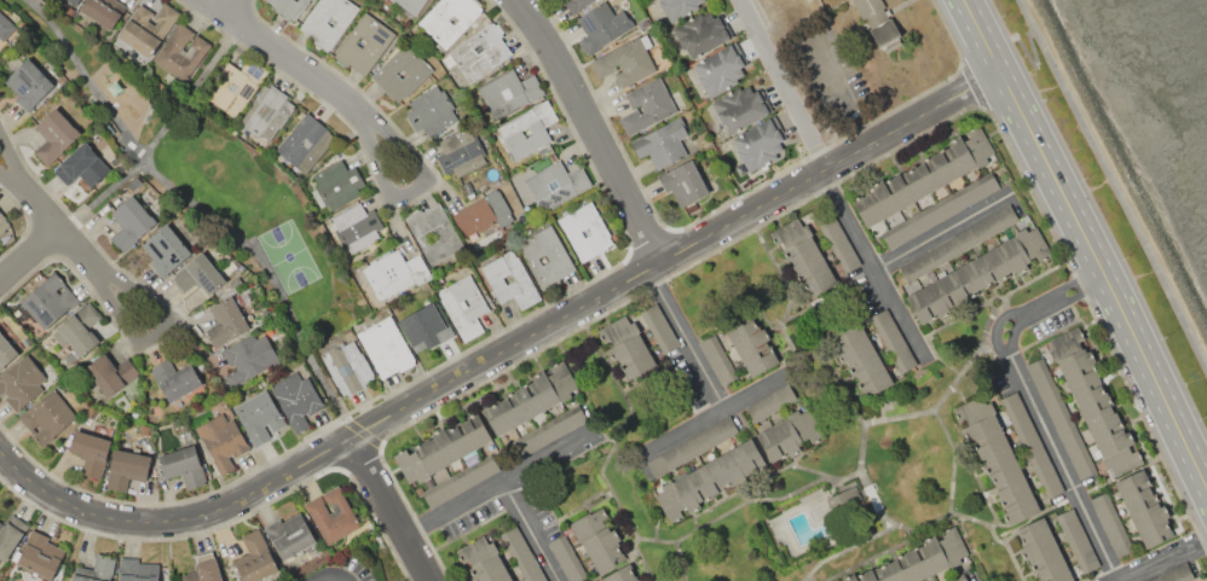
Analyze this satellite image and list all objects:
building: (73, 1)
road: (247, 4)
road: (230, 5)
building: (410, 5)
building: (576, 5)
building: (287, 7)
building: (677, 8)
building: (103, 11)
building: (449, 19)
building: (328, 21)
building: (878, 23)
building: (5, 25)
building: (148, 27)
building: (601, 27)
building: (700, 34)
building: (645, 41)
building: (363, 43)
building: (479, 52)
building: (180, 53)
road: (283, 53)
building: (624, 62)
building: (721, 69)
building: (385, 75)
building: (62, 80)
building: (28, 83)
road: (782, 83)
road: (971, 83)
building: (237, 86)
road: (845, 88)
building: (508, 92)
building: (649, 105)
building: (739, 108)
building: (431, 110)
building: (267, 111)
road: (591, 127)
building: (526, 132)
building: (54, 134)
road: (157, 134)
building: (305, 143)
building: (662, 143)
building: (758, 145)
building: (460, 152)
building: (82, 165)
building: (923, 176)
park: (210, 179)
building: (554, 184)
building: (682, 184)
building: (336, 185)
road: (410, 186)
road: (1029, 190)
road: (732, 199)
road: (192, 204)
building: (499, 208)
building: (691, 208)
road: (394, 209)
building: (940, 210)
road: (47, 215)
building: (473, 215)
road: (27, 220)
building: (129, 222)
building: (2, 223)
building: (358, 230)
building: (585, 231)
road: (941, 232)
building: (434, 234)
building: (484, 236)
road: (40, 240)
building: (836, 240)
road: (648, 242)
building: (958, 243)
road: (1087, 245)
building: (164, 250)
road: (28, 252)
park: (287, 255)
building: (802, 255)
building: (547, 256)
road: (871, 266)
building: (394, 273)
building: (197, 274)
building: (977, 274)
building: (509, 280)
building: (235, 281)
road: (1079, 285)
building: (50, 300)
road: (983, 301)
building: (463, 306)
road: (610, 307)
road: (995, 309)
road: (180, 310)
building: (226, 321)
building: (426, 326)
building: (659, 326)
building: (77, 329)
road: (152, 331)
road: (784, 337)
road: (686, 338)
building: (893, 341)
building: (624, 342)
road: (980, 343)
building: (751, 344)
building: (385, 347)
building: (6, 351)
road: (502, 351)
building: (248, 359)
building: (716, 359)
building: (860, 359)
road: (441, 362)
building: (347, 367)
building: (110, 373)
building: (999, 377)
building: (174, 379)
road: (614, 380)
building: (21, 382)
building: (530, 399)
building: (296, 400)
building: (770, 402)
building: (1093, 402)
road: (1032, 403)
building: (156, 411)
building: (91, 413)
building: (134, 413)
building: (47, 416)
building: (259, 417)
road: (717, 417)
building: (1059, 418)
road: (1144, 424)
building: (143, 430)
road: (362, 431)
building: (548, 431)
building: (790, 434)
building: (221, 442)
building: (1030, 445)
building: (691, 447)
building: (441, 448)
building: (91, 452)
road: (358, 457)
building: (183, 465)
building: (127, 469)
building: (1001, 469)
road: (859, 472)
road: (951, 477)
building: (711, 478)
building: (461, 481)
road: (495, 487)
road: (613, 495)
building: (842, 496)
road: (744, 501)
building: (1143, 509)
road: (391, 510)
building: (331, 515)
road: (233, 518)
building: (1108, 519)
road: (532, 531)
building: (10, 534)
building: (289, 536)
building: (596, 538)
road: (654, 539)
building: (1076, 541)
road: (845, 547)
building: (1041, 551)
building: (521, 554)
building: (40, 556)
building: (324, 557)
road: (867, 557)
building: (255, 558)
building: (567, 559)
building: (918, 559)
road: (1160, 559)
building: (314, 560)
building: (483, 560)
building: (96, 569)
building: (204, 569)
building: (137, 570)
road: (327, 574)
building: (1173, 574)
building: (620, 575)
building: (957, 577)
road: (802, 579)

